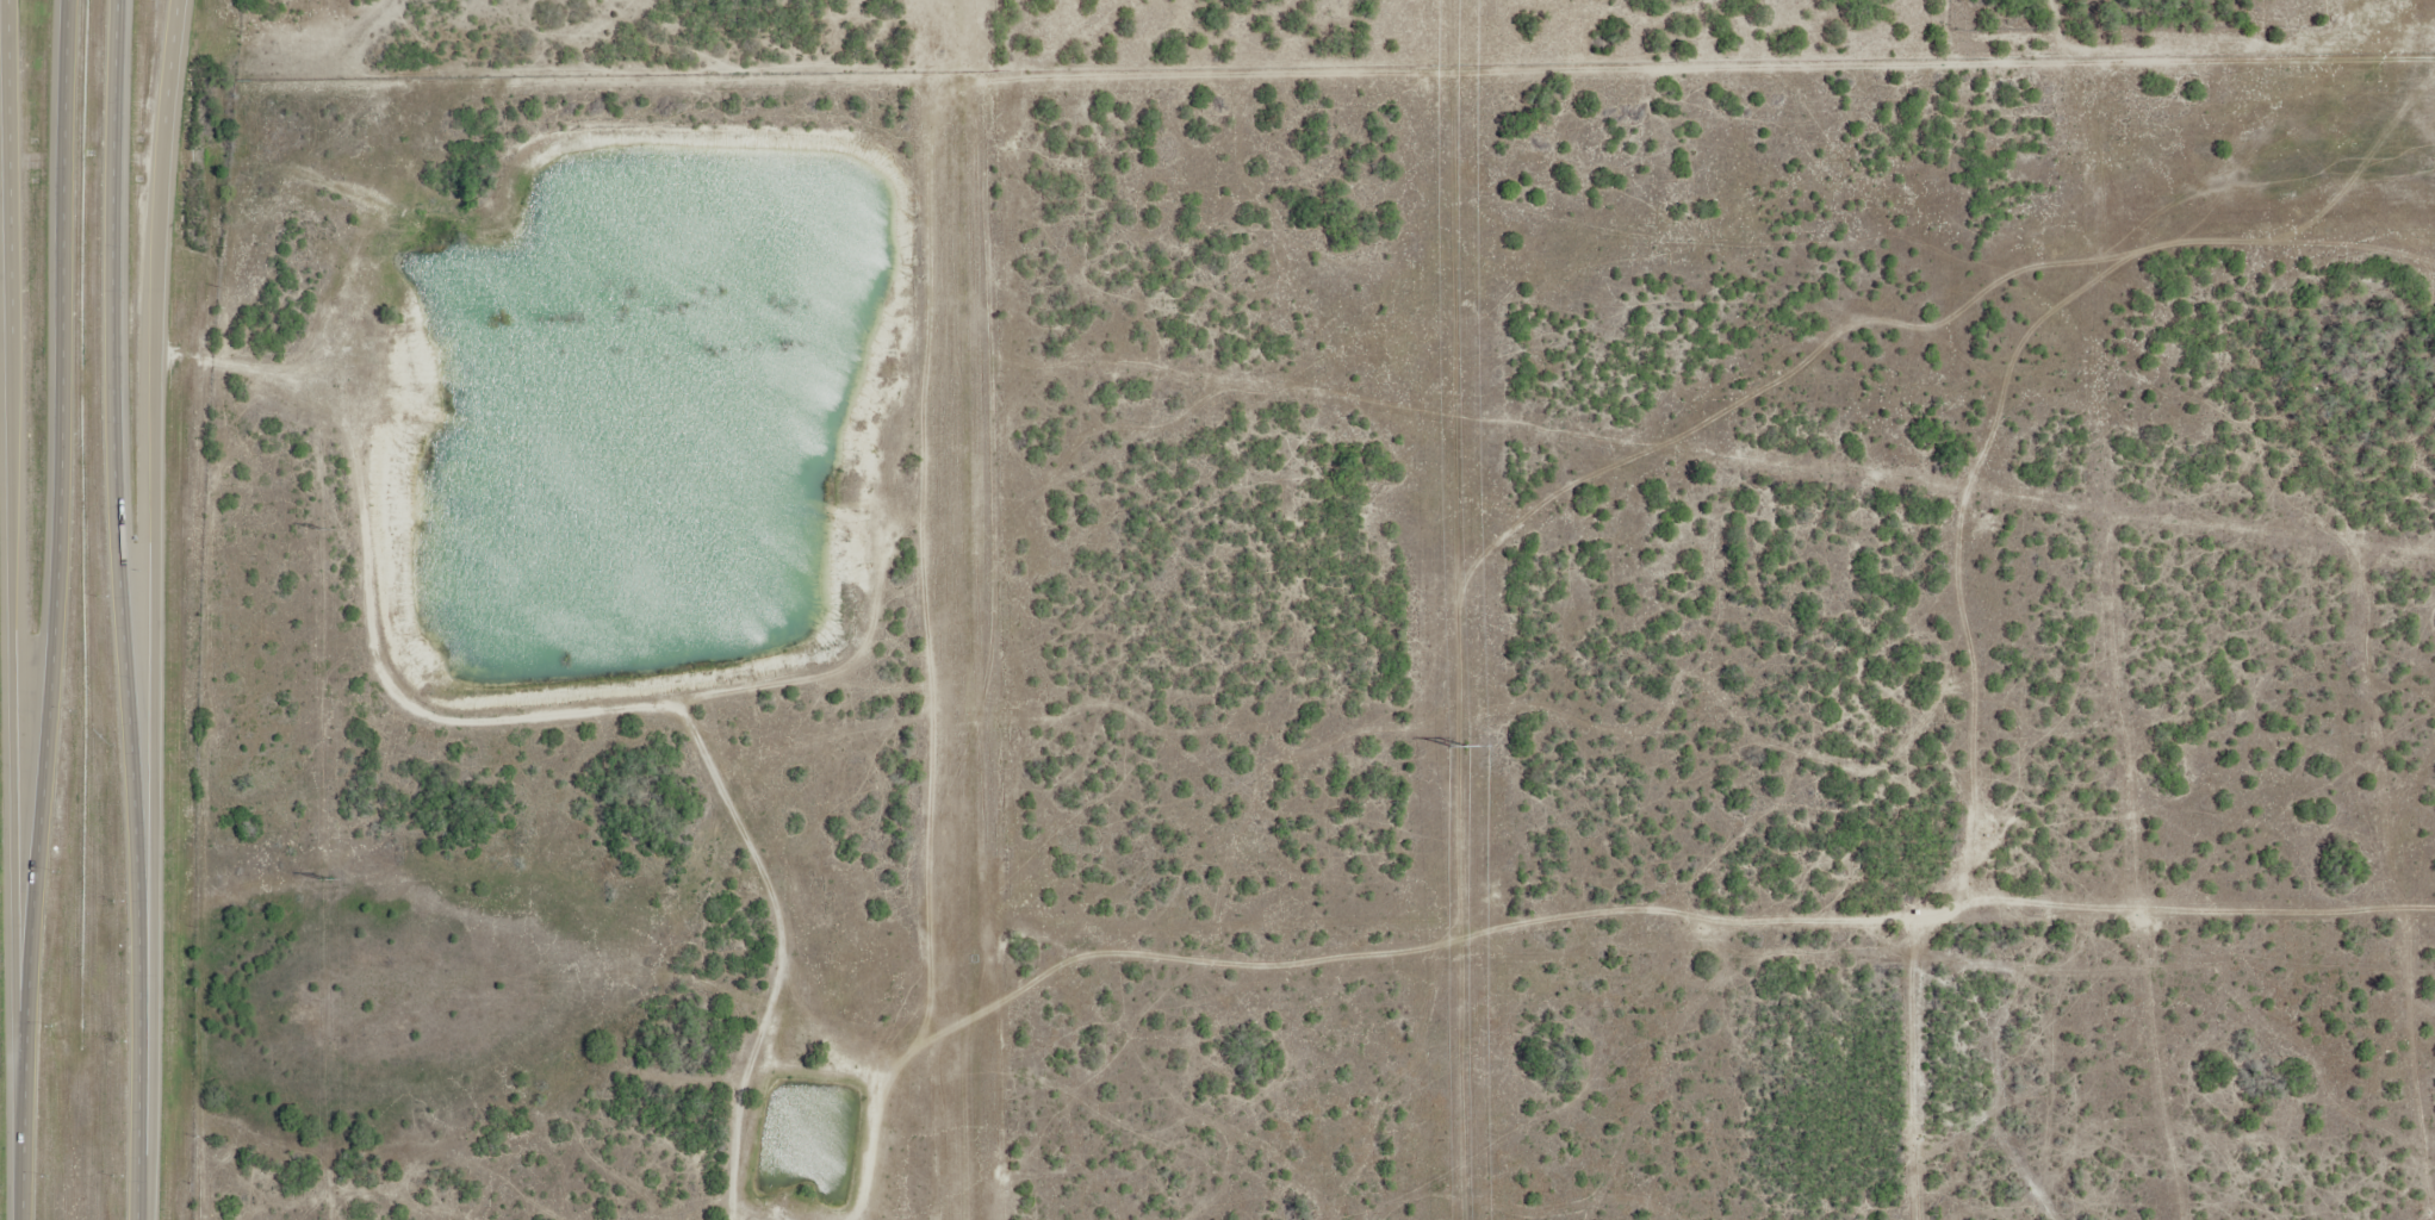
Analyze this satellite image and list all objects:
road: (60, 292)
road: (111, 292)
power tower: (321, 529)
road: (14, 542)
road: (149, 579)
power tower: (1460, 745)
road: (36, 833)
road: (135, 872)
power tower: (325, 877)
road: (20, 1152)
road: (148, 1190)

